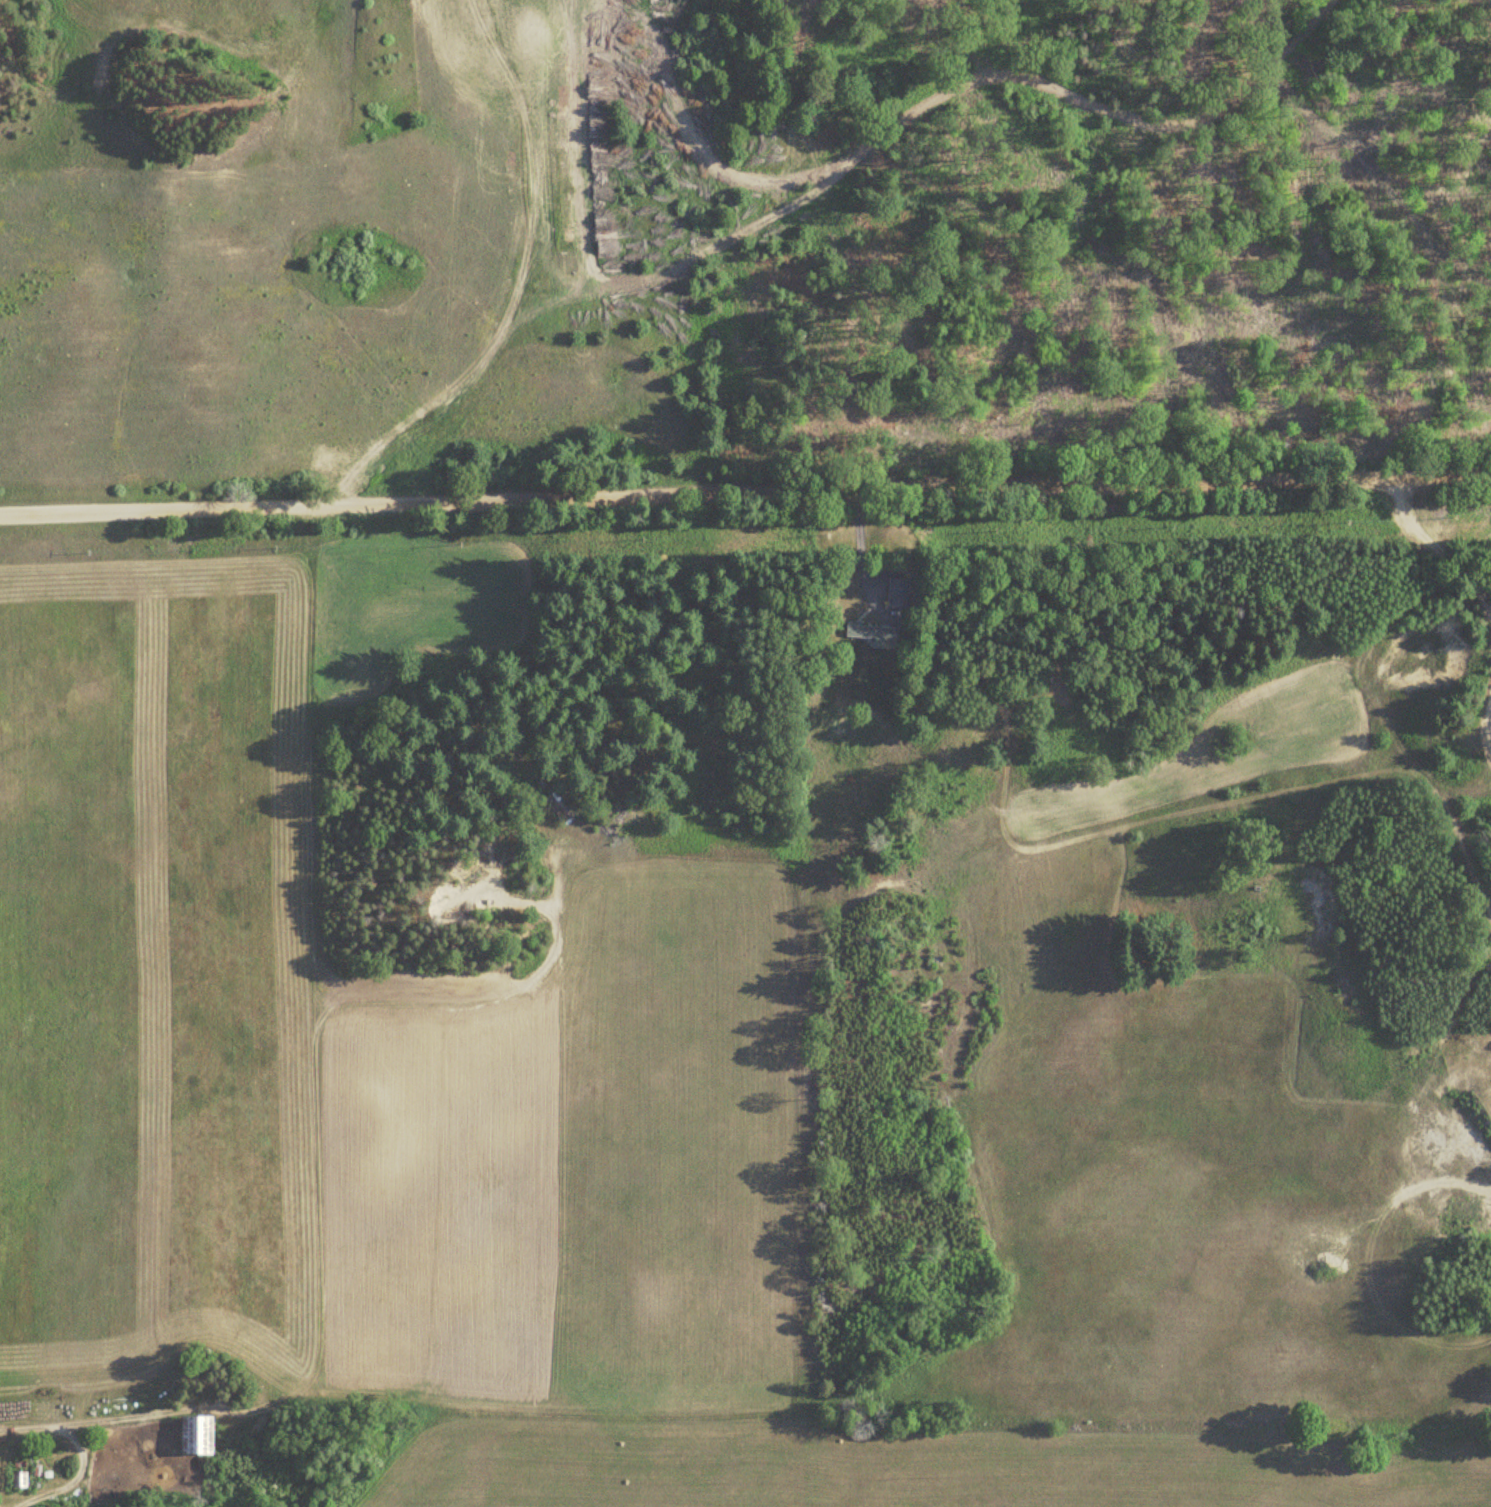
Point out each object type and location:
road: (745, 496)
building: (899, 595)
building: (869, 634)
building: (194, 1437)

